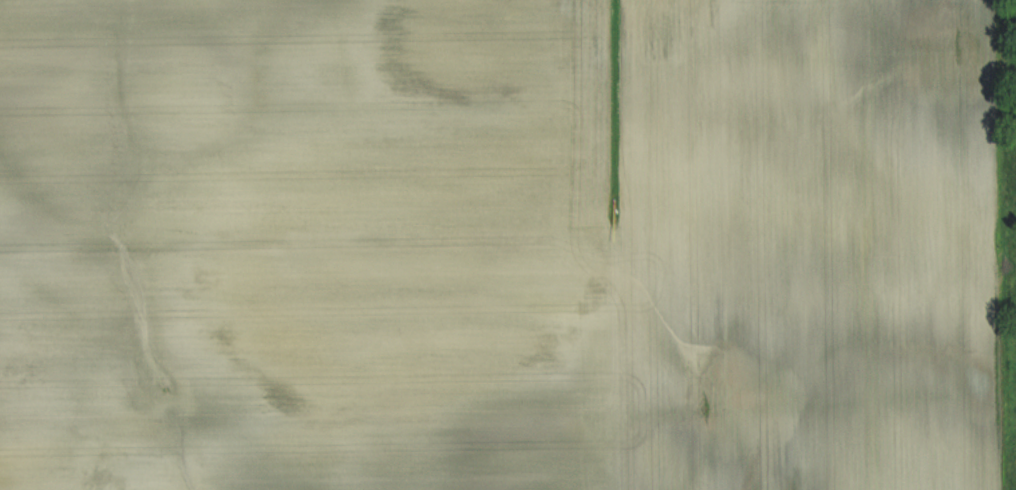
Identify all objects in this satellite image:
park: (1008, 226)

